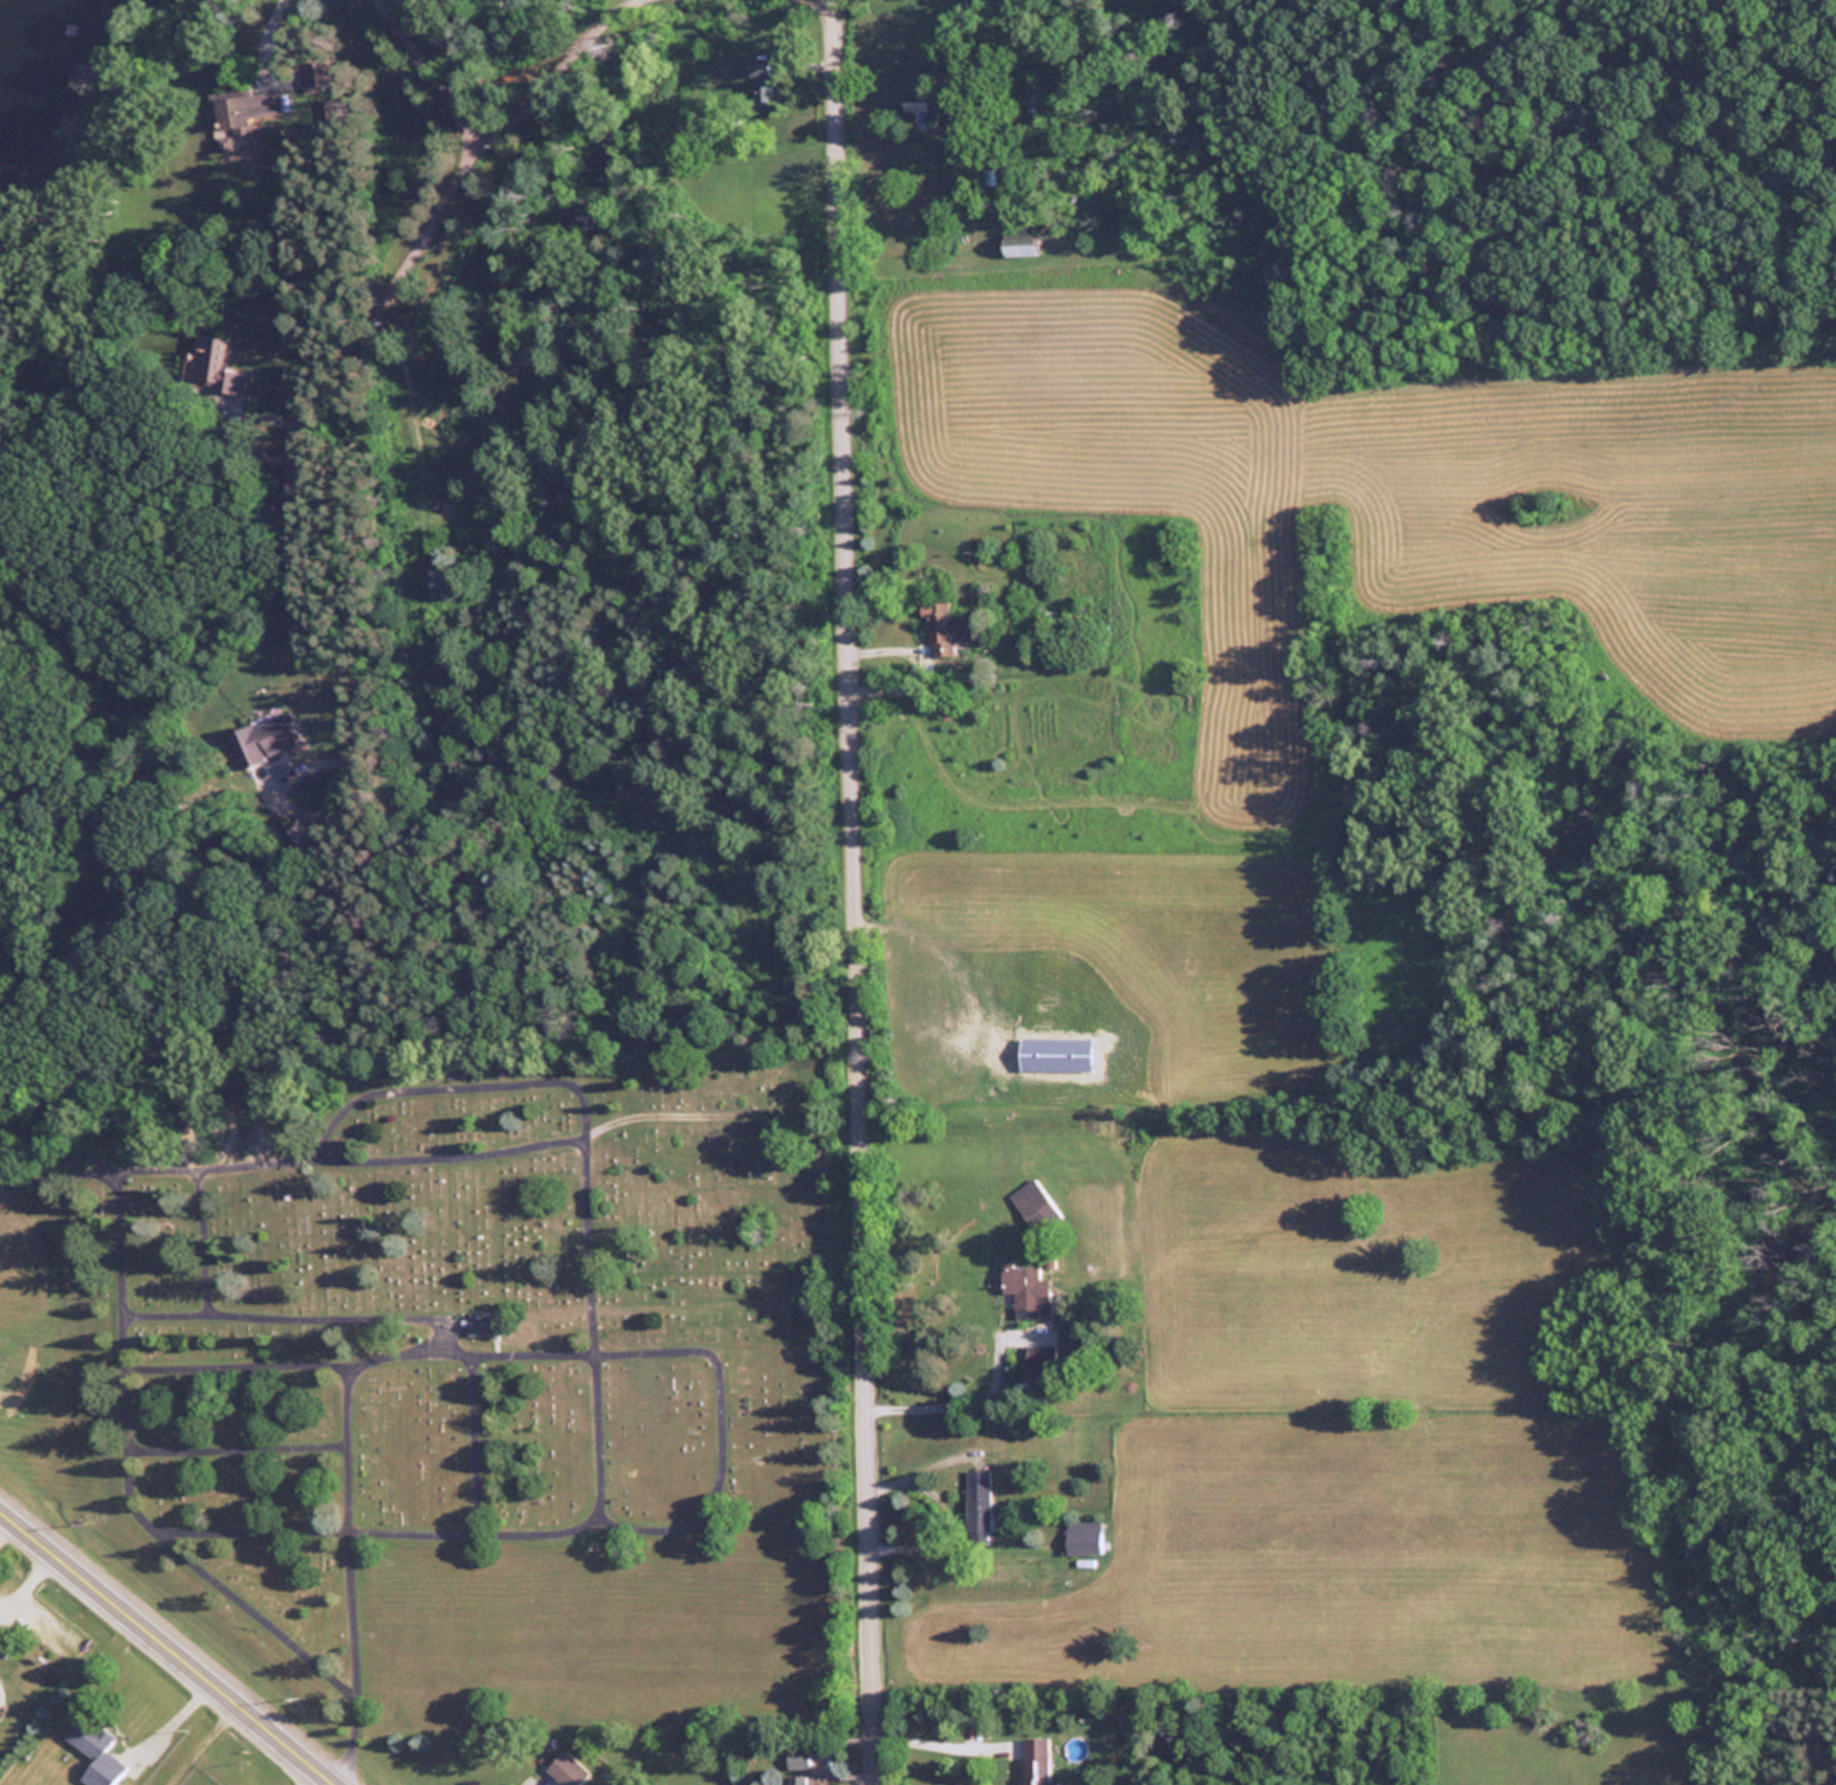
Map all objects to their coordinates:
road: (260, 33)
building: (758, 67)
building: (312, 75)
building: (763, 92)
building: (917, 111)
building: (237, 113)
road: (503, 121)
road: (420, 227)
building: (216, 366)
road: (348, 570)
building: (943, 628)
building: (264, 739)
road: (860, 892)
building: (1034, 1205)
building: (480, 1327)
building: (1036, 1355)
park: (464, 1390)
building: (975, 1505)
building: (1080, 1536)
road: (171, 1648)
building: (93, 1750)
building: (796, 1758)
building: (1033, 1760)
building: (564, 1768)
building: (797, 1779)
road: (328, 1780)

